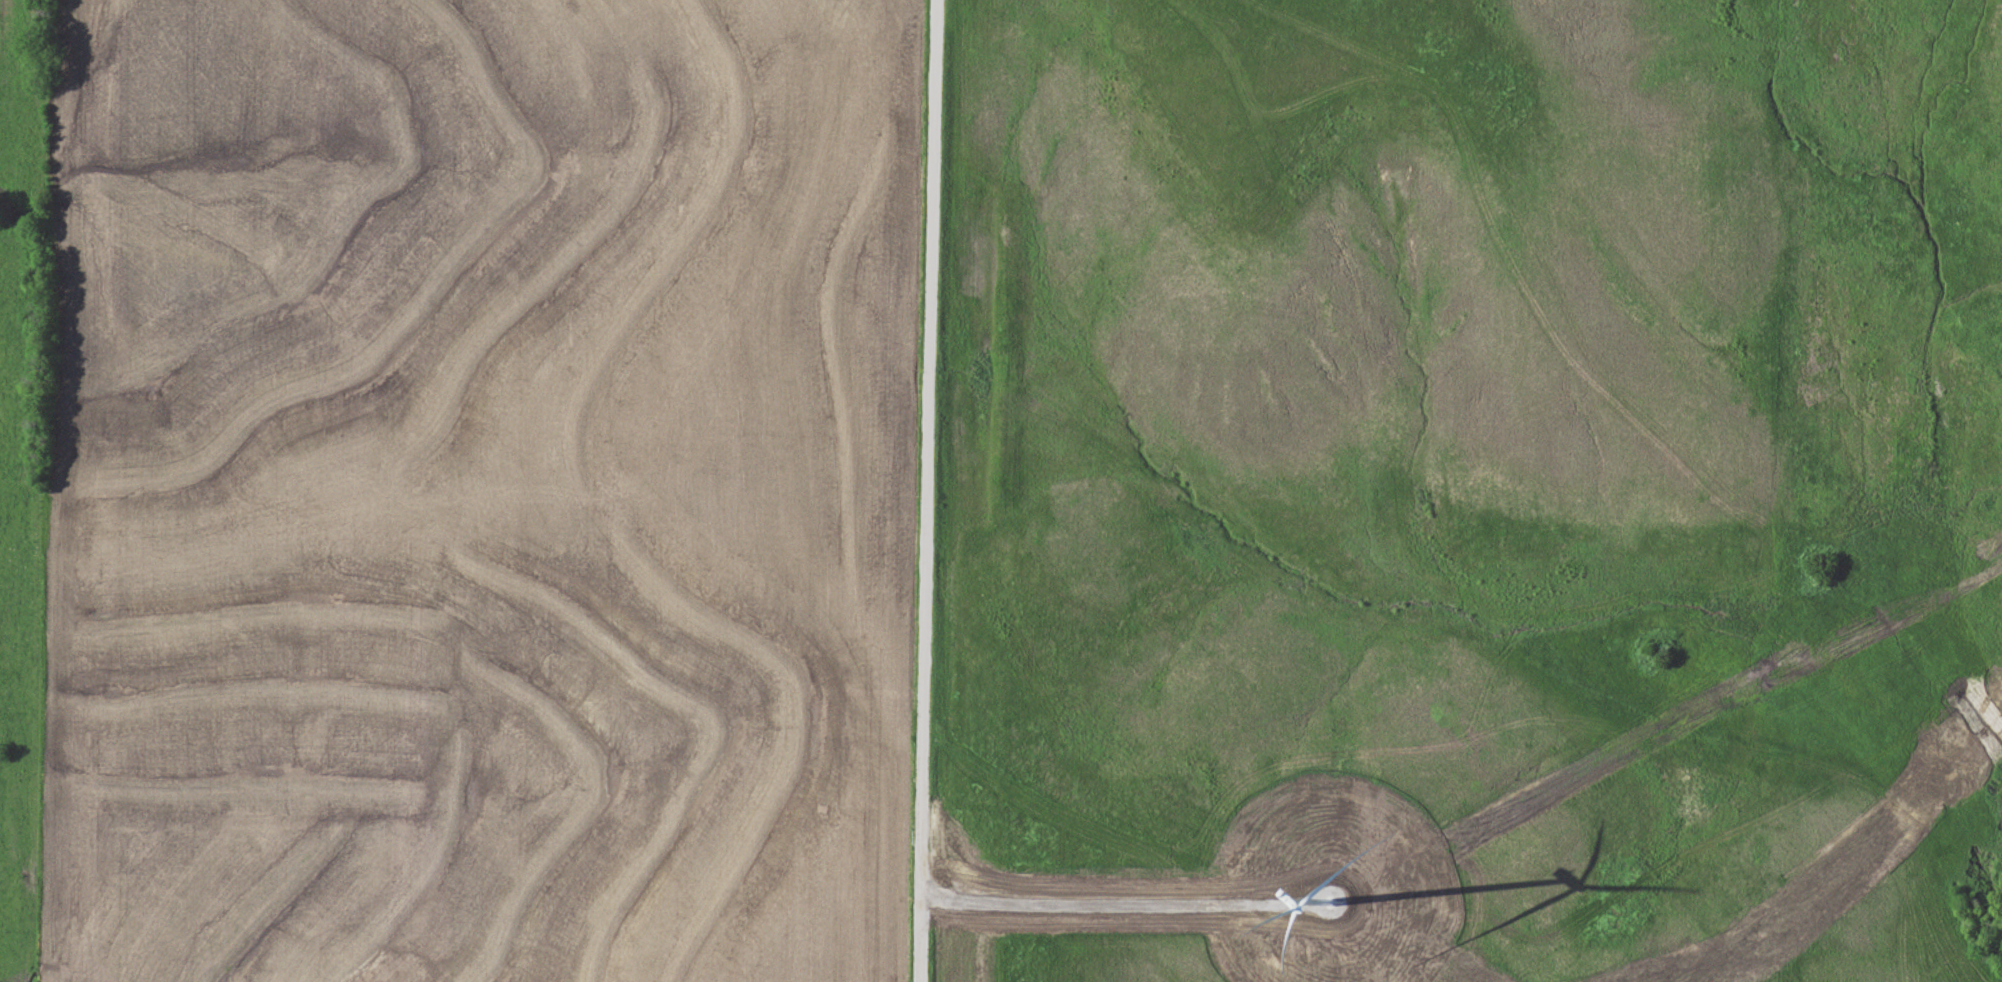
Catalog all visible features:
road: (919, 490)
wind turbine: (1324, 902)

